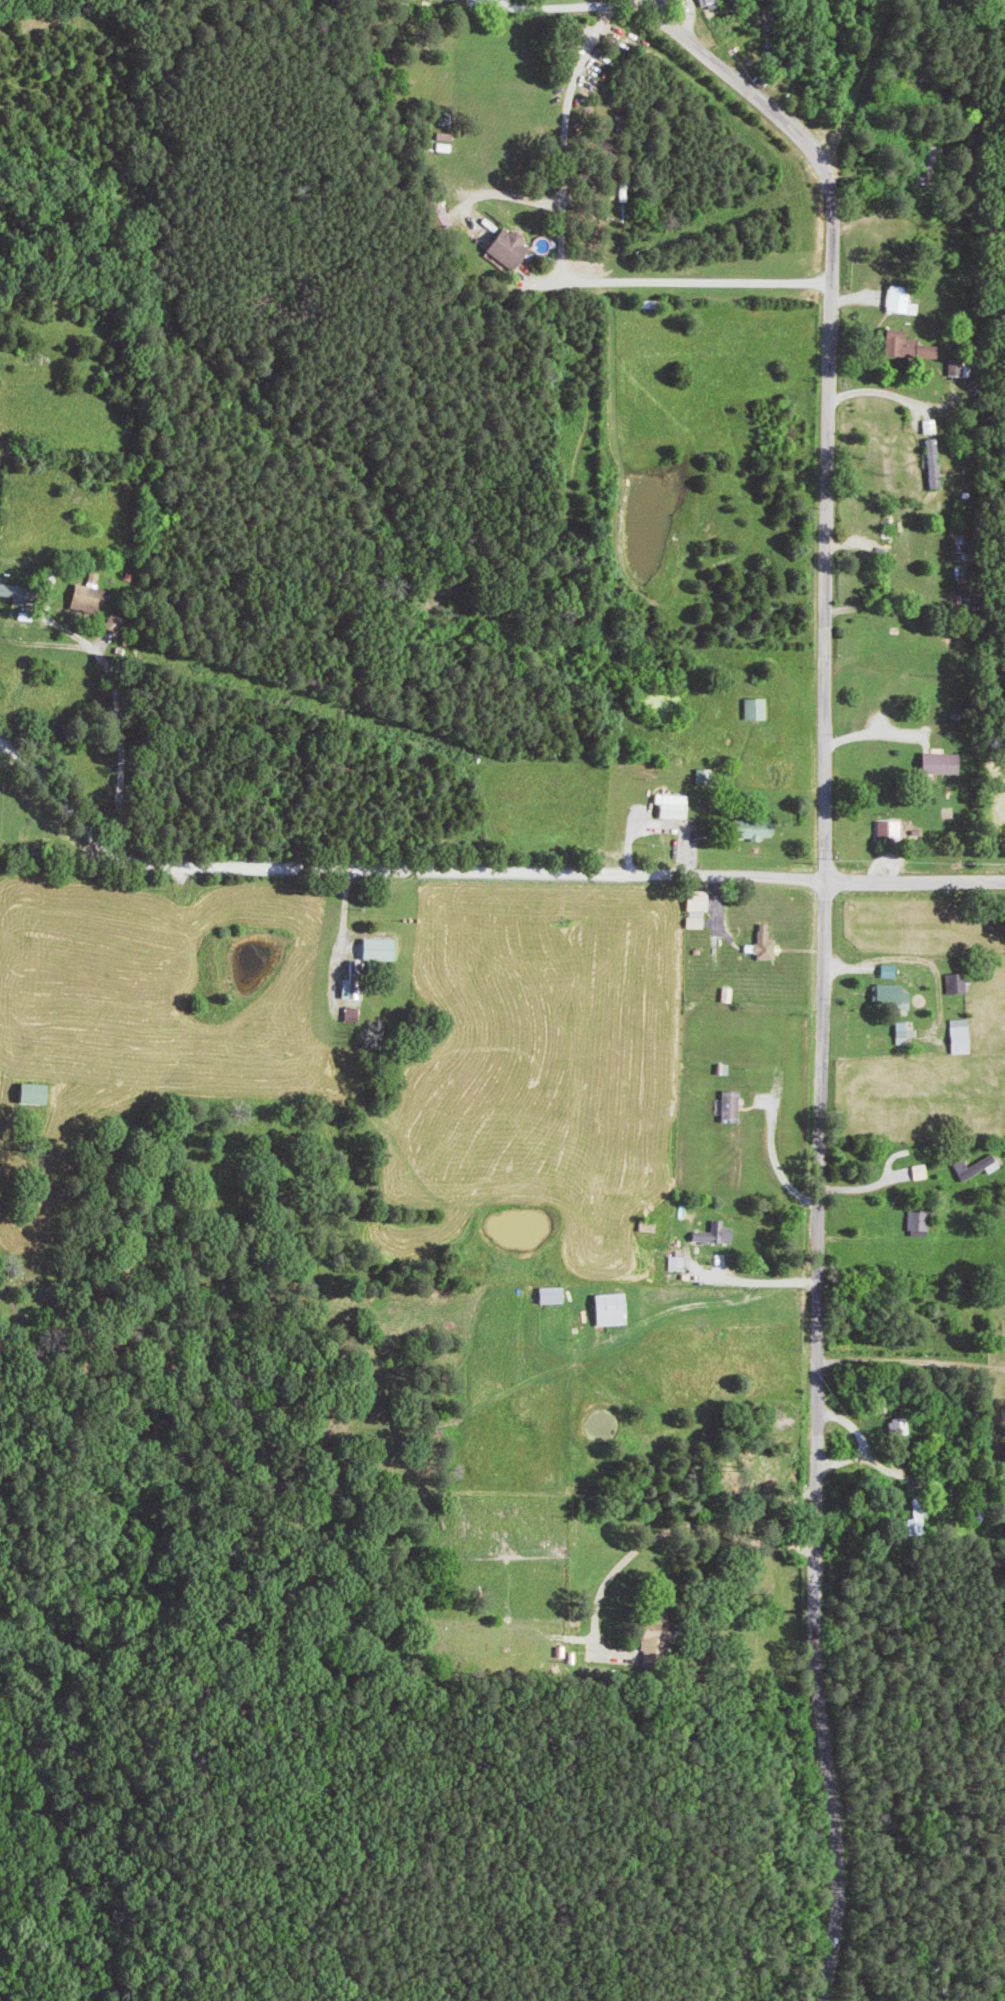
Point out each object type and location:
building: (508, 0)
road: (568, 3)
road: (687, 18)
building: (446, 136)
road: (563, 137)
building: (441, 214)
building: (510, 247)
road: (571, 277)
building: (903, 299)
building: (910, 345)
building: (959, 367)
road: (887, 388)
building: (934, 426)
building: (936, 462)
building: (23, 592)
building: (98, 597)
building: (121, 621)
road: (117, 697)
building: (758, 708)
road: (883, 733)
building: (942, 762)
building: (676, 805)
building: (755, 828)
building: (893, 829)
road: (690, 845)
road: (388, 869)
road: (915, 881)
building: (700, 907)
building: (767, 944)
building: (382, 949)
road: (878, 958)
road: (821, 960)
building: (890, 970)
building: (959, 983)
building: (352, 988)
building: (731, 994)
building: (894, 995)
building: (356, 1014)
building: (906, 1032)
building: (963, 1035)
building: (44, 1093)
building: (732, 1106)
building: (980, 1166)
road: (861, 1188)
building: (922, 1220)
building: (719, 1232)
road: (698, 1280)
building: (554, 1294)
building: (615, 1308)
road: (910, 1362)
building: (904, 1425)
road: (873, 1452)
road: (649, 1538)
building: (662, 1631)

